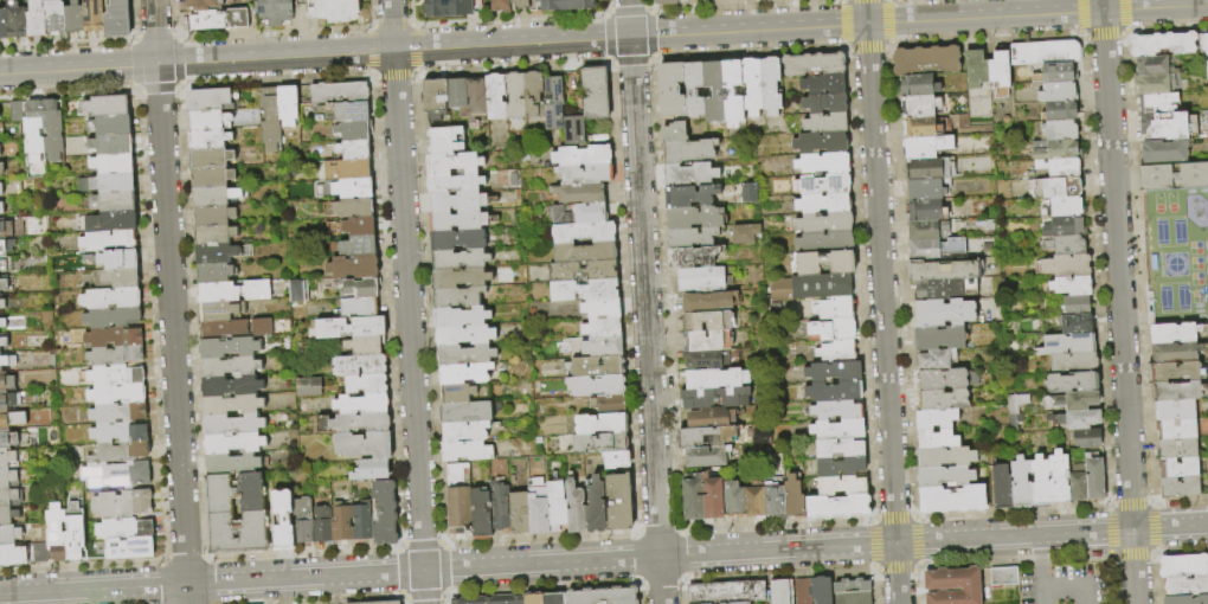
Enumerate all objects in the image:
building: (664, 1)
building: (203, 4)
building: (520, 5)
building: (566, 5)
building: (500, 6)
road: (1155, 7)
building: (448, 8)
building: (332, 9)
building: (274, 11)
building: (56, 15)
building: (92, 15)
building: (37, 18)
building: (75, 18)
building: (17, 19)
building: (117, 19)
building: (218, 19)
building: (4, 24)
road: (551, 41)
building: (1159, 43)
building: (1047, 53)
building: (1206, 53)
building: (927, 60)
building: (1150, 64)
building: (816, 65)
building: (977, 69)
building: (1000, 70)
building: (1056, 73)
building: (1149, 83)
building: (824, 84)
building: (770, 86)
building: (920, 86)
building: (752, 88)
building: (673, 90)
building: (695, 90)
building: (733, 91)
building: (1061, 91)
building: (715, 92)
building: (341, 94)
building: (597, 94)
building: (535, 95)
building: (460, 96)
building: (516, 96)
building: (497, 97)
building: (436, 99)
building: (477, 99)
building: (211, 101)
building: (1155, 101)
building: (554, 103)
building: (827, 103)
building: (289, 105)
building: (104, 107)
building: (921, 107)
building: (1061, 110)
building: (17, 113)
building: (349, 113)
building: (271, 120)
building: (212, 121)
building: (827, 123)
building: (1162, 124)
building: (110, 126)
building: (921, 128)
building: (52, 129)
building: (32, 131)
building: (355, 131)
building: (574, 131)
building: (1061, 131)
building: (676, 133)
building: (211, 140)
building: (446, 141)
building: (111, 143)
building: (1, 144)
building: (822, 144)
building: (927, 147)
building: (1162, 149)
building: (355, 150)
building: (688, 152)
building: (1059, 152)
building: (0, 153)
building: (584, 156)
building: (211, 159)
building: (113, 163)
building: (824, 165)
building: (1061, 168)
building: (1, 169)
building: (925, 169)
building: (348, 171)
building: (441, 174)
building: (586, 175)
building: (690, 175)
building: (1170, 175)
building: (213, 178)
building: (108, 182)
building: (824, 185)
building: (0, 188)
building: (1059, 188)
building: (352, 189)
building: (927, 189)
building: (746, 192)
building: (583, 194)
building: (217, 197)
building: (690, 197)
building: (114, 201)
building: (458, 201)
building: (825, 204)
building: (1, 208)
building: (355, 208)
building: (1065, 208)
building: (925, 211)
building: (580, 214)
building: (214, 216)
building: (695, 219)
building: (116, 221)
building: (460, 221)
building: (827, 224)
building: (2, 227)
building: (360, 227)
building: (1066, 227)
building: (929, 230)
building: (585, 232)
building: (743, 233)
building: (217, 234)
building: (693, 238)
building: (460, 240)
building: (107, 242)
building: (827, 243)
building: (1067, 245)
building: (6, 246)
building: (360, 248)
building: (937, 249)
building: (586, 253)
building: (218, 255)
building: (694, 257)
building: (117, 259)
building: (461, 259)
building: (827, 263)
building: (5, 264)
building: (1065, 266)
building: (355, 268)
building: (584, 271)
road: (880, 271)
building: (944, 271)
building: (217, 274)
building: (121, 278)
building: (462, 278)
building: (702, 278)
building: (4, 285)
road: (406, 285)
building: (1073, 285)
building: (362, 288)
building: (812, 288)
building: (296, 290)
building: (586, 290)
building: (945, 290)
building: (258, 291)
building: (220, 293)
building: (458, 297)
building: (111, 298)
road: (644, 301)
road: (1119, 301)
road: (171, 302)
building: (709, 302)
building: (2, 304)
building: (1079, 306)
building: (360, 308)
building: (603, 308)
building: (836, 309)
building: (223, 310)
building: (945, 313)
building: (111, 317)
building: (461, 317)
building: (708, 321)
building: (2, 323)
building: (1074, 325)
building: (263, 328)
building: (352, 328)
building: (604, 328)
building: (225, 329)
building: (835, 330)
building: (1175, 334)
building: (467, 336)
building: (113, 338)
building: (940, 339)
building: (708, 341)
building: (4, 342)
building: (366, 346)
building: (1069, 346)
building: (605, 347)
building: (230, 348)
building: (838, 353)
building: (1175, 353)
building: (467, 355)
building: (114, 356)
building: (708, 360)
building: (8, 361)
building: (936, 361)
building: (1075, 364)
building: (360, 366)
building: (231, 367)
building: (599, 367)
building: (0, 371)
building: (835, 372)
building: (1175, 372)
building: (465, 374)
building: (115, 375)
building: (718, 379)
building: (947, 380)
building: (6, 383)
building: (1073, 383)
building: (367, 385)
building: (232, 386)
building: (307, 386)
building: (599, 386)
building: (836, 392)
building: (1176, 392)
building: (117, 394)
building: (460, 394)
building: (717, 398)
building: (9, 400)
building: (944, 400)
building: (1074, 401)
building: (233, 405)
building: (364, 405)
building: (610, 405)
building: (1014, 406)
building: (1176, 410)
building: (837, 411)
building: (117, 413)
building: (467, 413)
building: (712, 418)
building: (11, 419)
building: (1077, 419)
building: (356, 424)
building: (603, 424)
building: (234, 425)
building: (1177, 429)
building: (840, 430)
building: (938, 430)
building: (467, 432)
building: (120, 433)
building: (757, 433)
building: (707, 437)
building: (7, 439)
building: (1088, 439)
building: (236, 444)
building: (602, 444)
building: (366, 445)
building: (1178, 449)
building: (841, 450)
building: (468, 451)
building: (120, 452)
building: (7, 457)
building: (707, 457)
building: (1207, 457)
building: (946, 458)
building: (618, 461)
building: (234, 464)
building: (842, 468)
building: (1180, 468)
building: (372, 471)
building: (116, 475)
building: (7, 477)
building: (946, 477)
building: (1095, 478)
building: (1061, 480)
building: (1022, 483)
building: (1042, 483)
building: (1079, 483)
building: (843, 486)
building: (1181, 487)
building: (1003, 488)
building: (7, 496)
building: (713, 499)
building: (795, 499)
building: (461, 500)
building: (694, 500)
building: (953, 500)
building: (735, 501)
building: (621, 502)
building: (756, 502)
building: (776, 502)
building: (122, 505)
building: (501, 505)
building: (558, 506)
building: (598, 507)
building: (540, 508)
building: (840, 508)
building: (578, 509)
building: (386, 514)
building: (521, 514)
building: (482, 515)
building: (7, 516)
building: (257, 518)
building: (284, 521)
building: (304, 521)
building: (362, 522)
building: (343, 523)
building: (325, 526)
building: (124, 529)
building: (75, 532)
building: (56, 534)
building: (9, 535)
road: (1052, 535)
building: (130, 548)
road: (1039, 554)
building: (13, 555)
building: (1183, 566)
road: (448, 568)
road: (898, 573)
building: (1004, 577)
parking lot: (1064, 585)
building: (955, 586)
building: (1187, 586)
road: (423, 587)
road: (1040, 587)
road: (1069, 590)
building: (805, 591)
building: (822, 591)
building: (783, 592)
building: (854, 592)
building: (728, 593)
building: (605, 597)
building: (493, 599)
building: (535, 599)
building: (557, 599)
building: (1187, 599)
building: (390, 603)
building: (745, 603)

